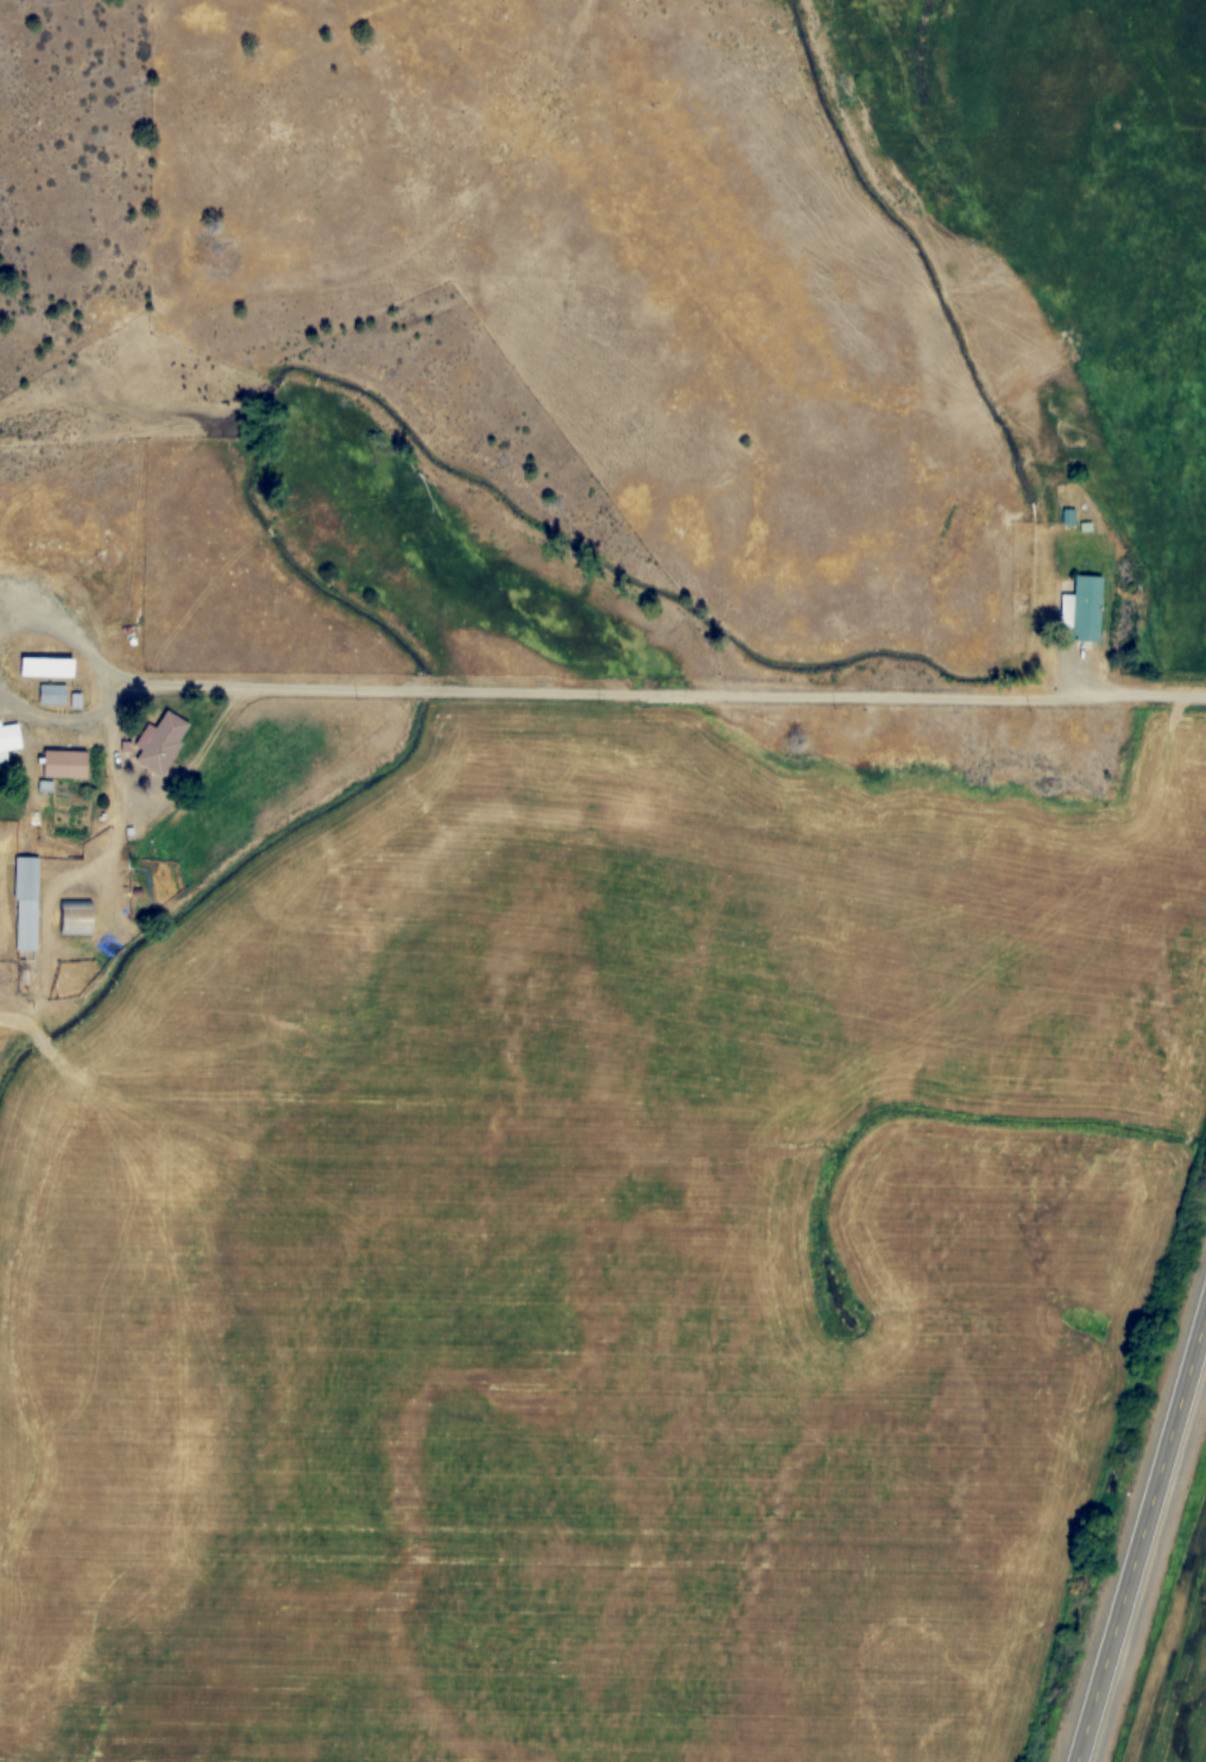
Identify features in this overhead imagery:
building: (1084, 610)
road: (67, 638)
building: (55, 695)
road: (657, 695)
building: (11, 738)
building: (165, 743)
building: (68, 764)
building: (29, 904)
building: (77, 916)
road: (1141, 1535)

